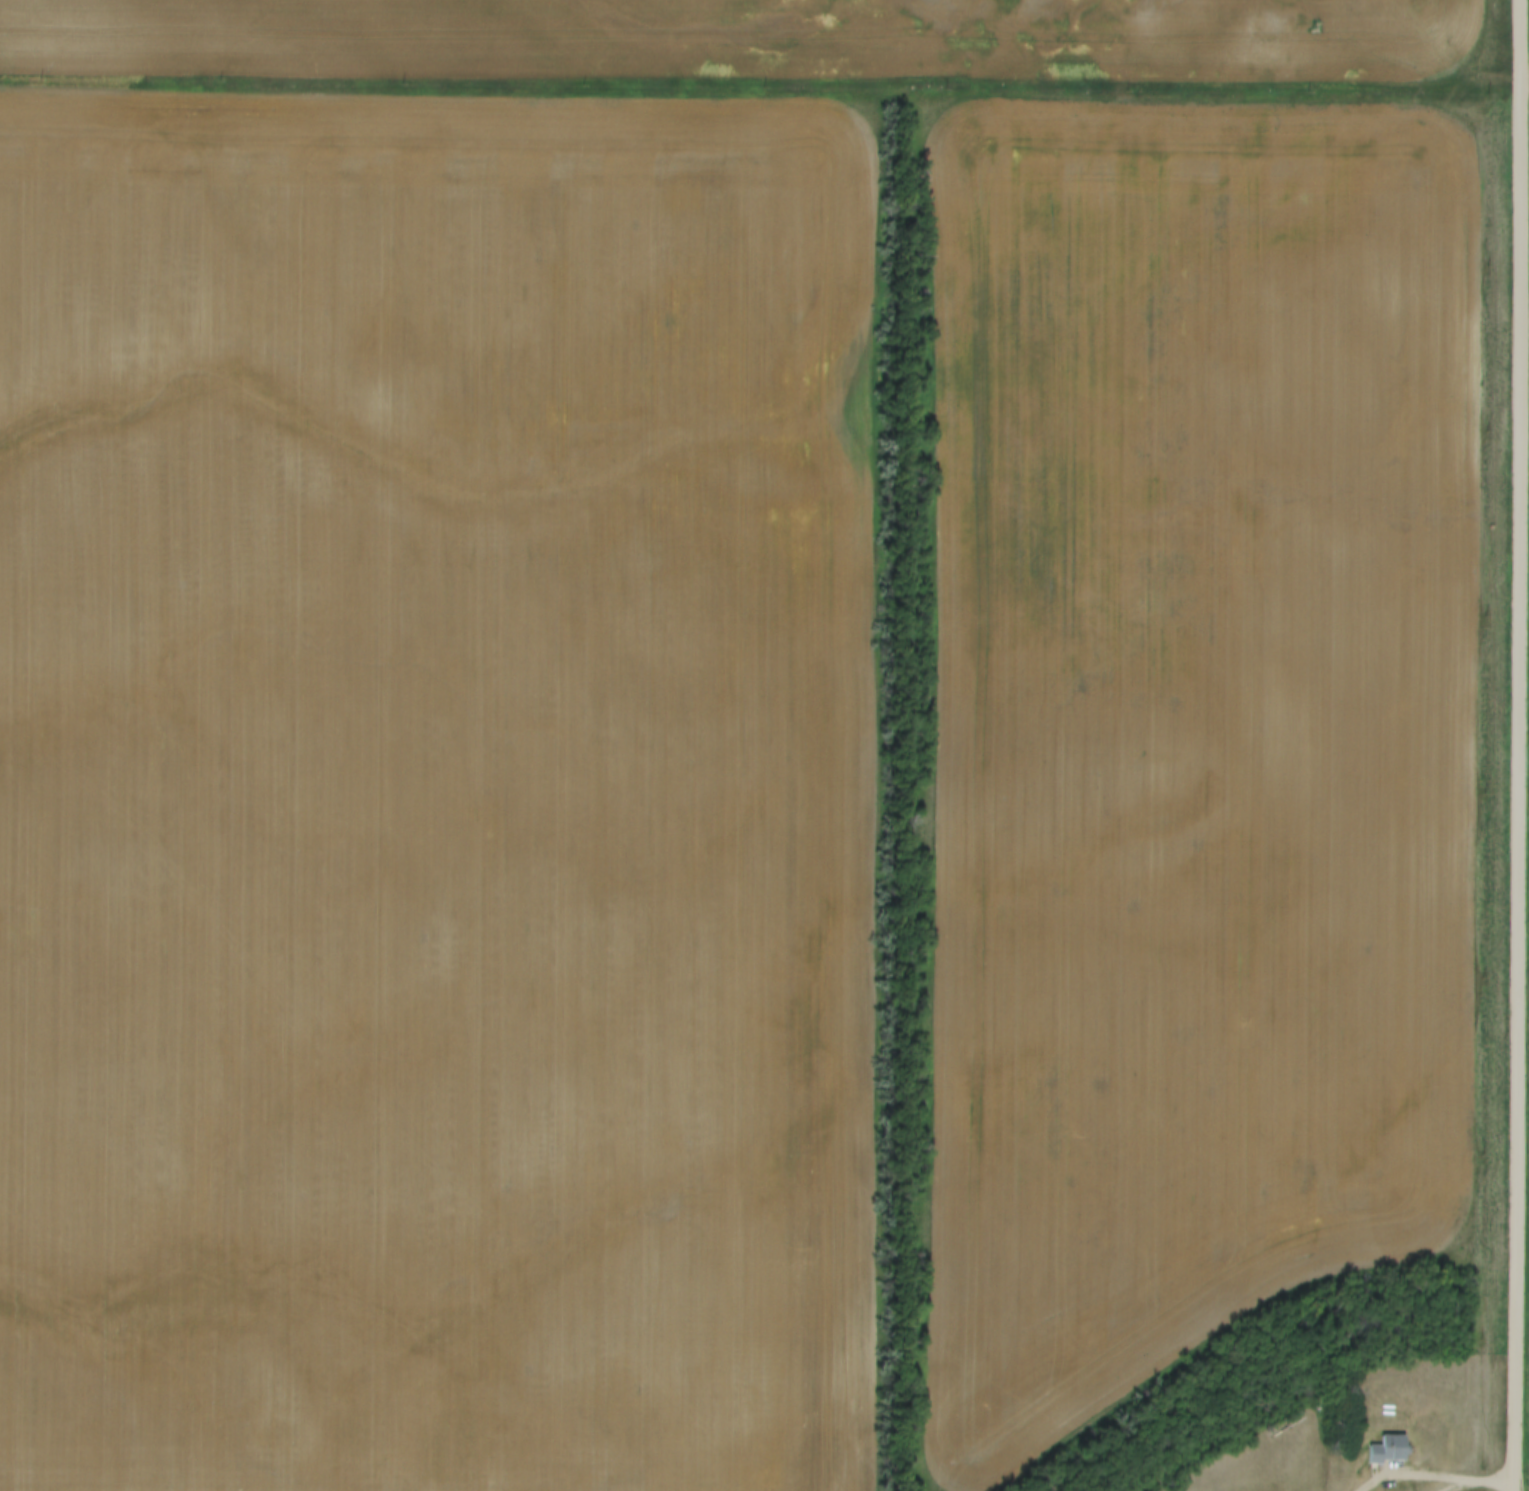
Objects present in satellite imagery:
building: (1521, 238)
building: (1521, 461)
road: (1518, 745)
building: (1389, 1452)
road: (1435, 1475)

